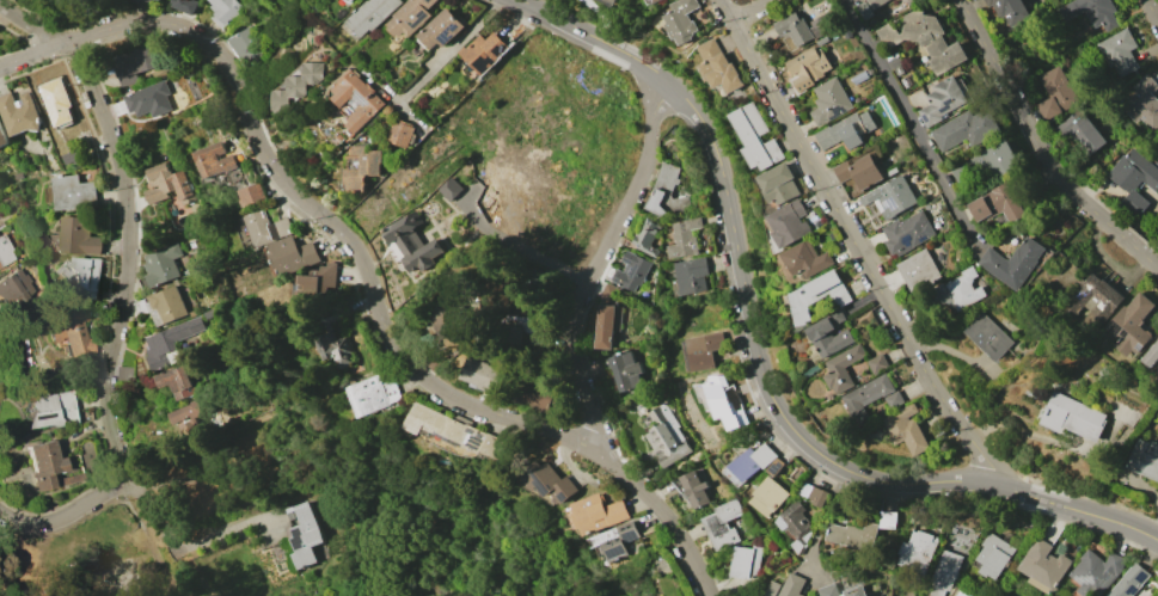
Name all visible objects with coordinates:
building: (148, 0)
building: (348, 0)
building: (652, 1)
building: (608, 2)
building: (874, 4)
building: (183, 5)
road: (528, 5)
road: (755, 10)
building: (864, 10)
building: (222, 11)
building: (1090, 12)
building: (1007, 13)
road: (1151, 13)
building: (369, 14)
building: (410, 17)
building: (680, 20)
road: (29, 25)
road: (112, 25)
building: (801, 26)
building: (440, 29)
road: (710, 32)
building: (923, 38)
building: (246, 47)
road: (451, 50)
building: (482, 51)
building: (1117, 51)
road: (31, 55)
building: (134, 63)
building: (717, 67)
building: (807, 67)
building: (298, 86)
building: (1055, 92)
road: (239, 94)
building: (356, 98)
building: (148, 99)
building: (56, 100)
building: (941, 100)
building: (828, 102)
building: (1141, 102)
building: (18, 113)
road: (918, 122)
building: (966, 129)
building: (845, 130)
building: (1080, 131)
building: (400, 133)
building: (1, 137)
building: (755, 137)
road: (715, 143)
road: (1038, 149)
building: (74, 158)
building: (216, 159)
building: (988, 164)
building: (362, 166)
building: (858, 172)
building: (1133, 176)
building: (166, 184)
building: (779, 184)
building: (449, 188)
building: (73, 192)
building: (247, 192)
building: (668, 195)
building: (892, 197)
building: (999, 203)
building: (789, 223)
building: (259, 229)
building: (907, 232)
building: (79, 235)
building: (644, 236)
building: (684, 238)
building: (412, 241)
road: (860, 245)
building: (5, 251)
road: (125, 254)
building: (289, 256)
road: (361, 259)
building: (805, 259)
road: (600, 263)
building: (1016, 263)
building: (161, 264)
building: (630, 271)
building: (920, 271)
building: (85, 276)
building: (690, 276)
building: (315, 282)
building: (13, 288)
building: (967, 289)
building: (817, 294)
building: (1096, 300)
building: (142, 306)
building: (165, 306)
building: (208, 313)
building: (607, 317)
building: (451, 320)
building: (1134, 324)
building: (526, 330)
building: (69, 333)
building: (828, 334)
building: (991, 336)
building: (170, 343)
building: (336, 349)
building: (703, 351)
building: (1151, 355)
building: (436, 362)
building: (876, 363)
building: (841, 368)
building: (623, 369)
building: (485, 375)
building: (176, 381)
building: (866, 393)
building: (374, 394)
building: (704, 395)
building: (541, 397)
building: (893, 399)
building: (727, 401)
building: (48, 410)
road: (488, 411)
building: (1074, 416)
building: (189, 417)
building: (905, 429)
building: (455, 430)
building: (667, 437)
road: (813, 449)
building: (1145, 459)
building: (749, 463)
building: (43, 466)
building: (774, 467)
road: (624, 474)
building: (547, 480)
road: (949, 483)
building: (691, 489)
building: (767, 496)
building: (816, 497)
road: (1036, 498)
road: (130, 511)
road: (67, 514)
road: (152, 514)
building: (595, 514)
building: (887, 520)
road: (1117, 523)
building: (722, 524)
building: (794, 526)
building: (302, 534)
building: (851, 535)
building: (960, 537)
building: (615, 541)
road: (686, 547)
building: (917, 551)
building: (993, 555)
park: (94, 561)
building: (745, 561)
building: (1043, 566)
road: (160, 571)
building: (942, 572)
building: (1095, 573)
building: (1128, 582)
building: (785, 586)
building: (827, 590)
building: (962, 592)
building: (1157, 595)

